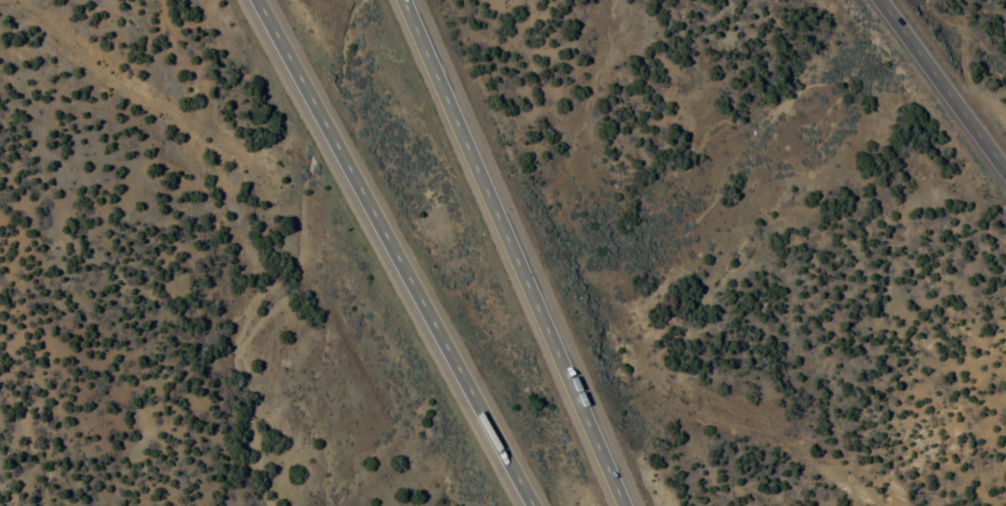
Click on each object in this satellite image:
road: (938, 89)
road: (146, 162)
road: (390, 252)
road: (513, 253)
road: (246, 346)
road: (750, 423)

